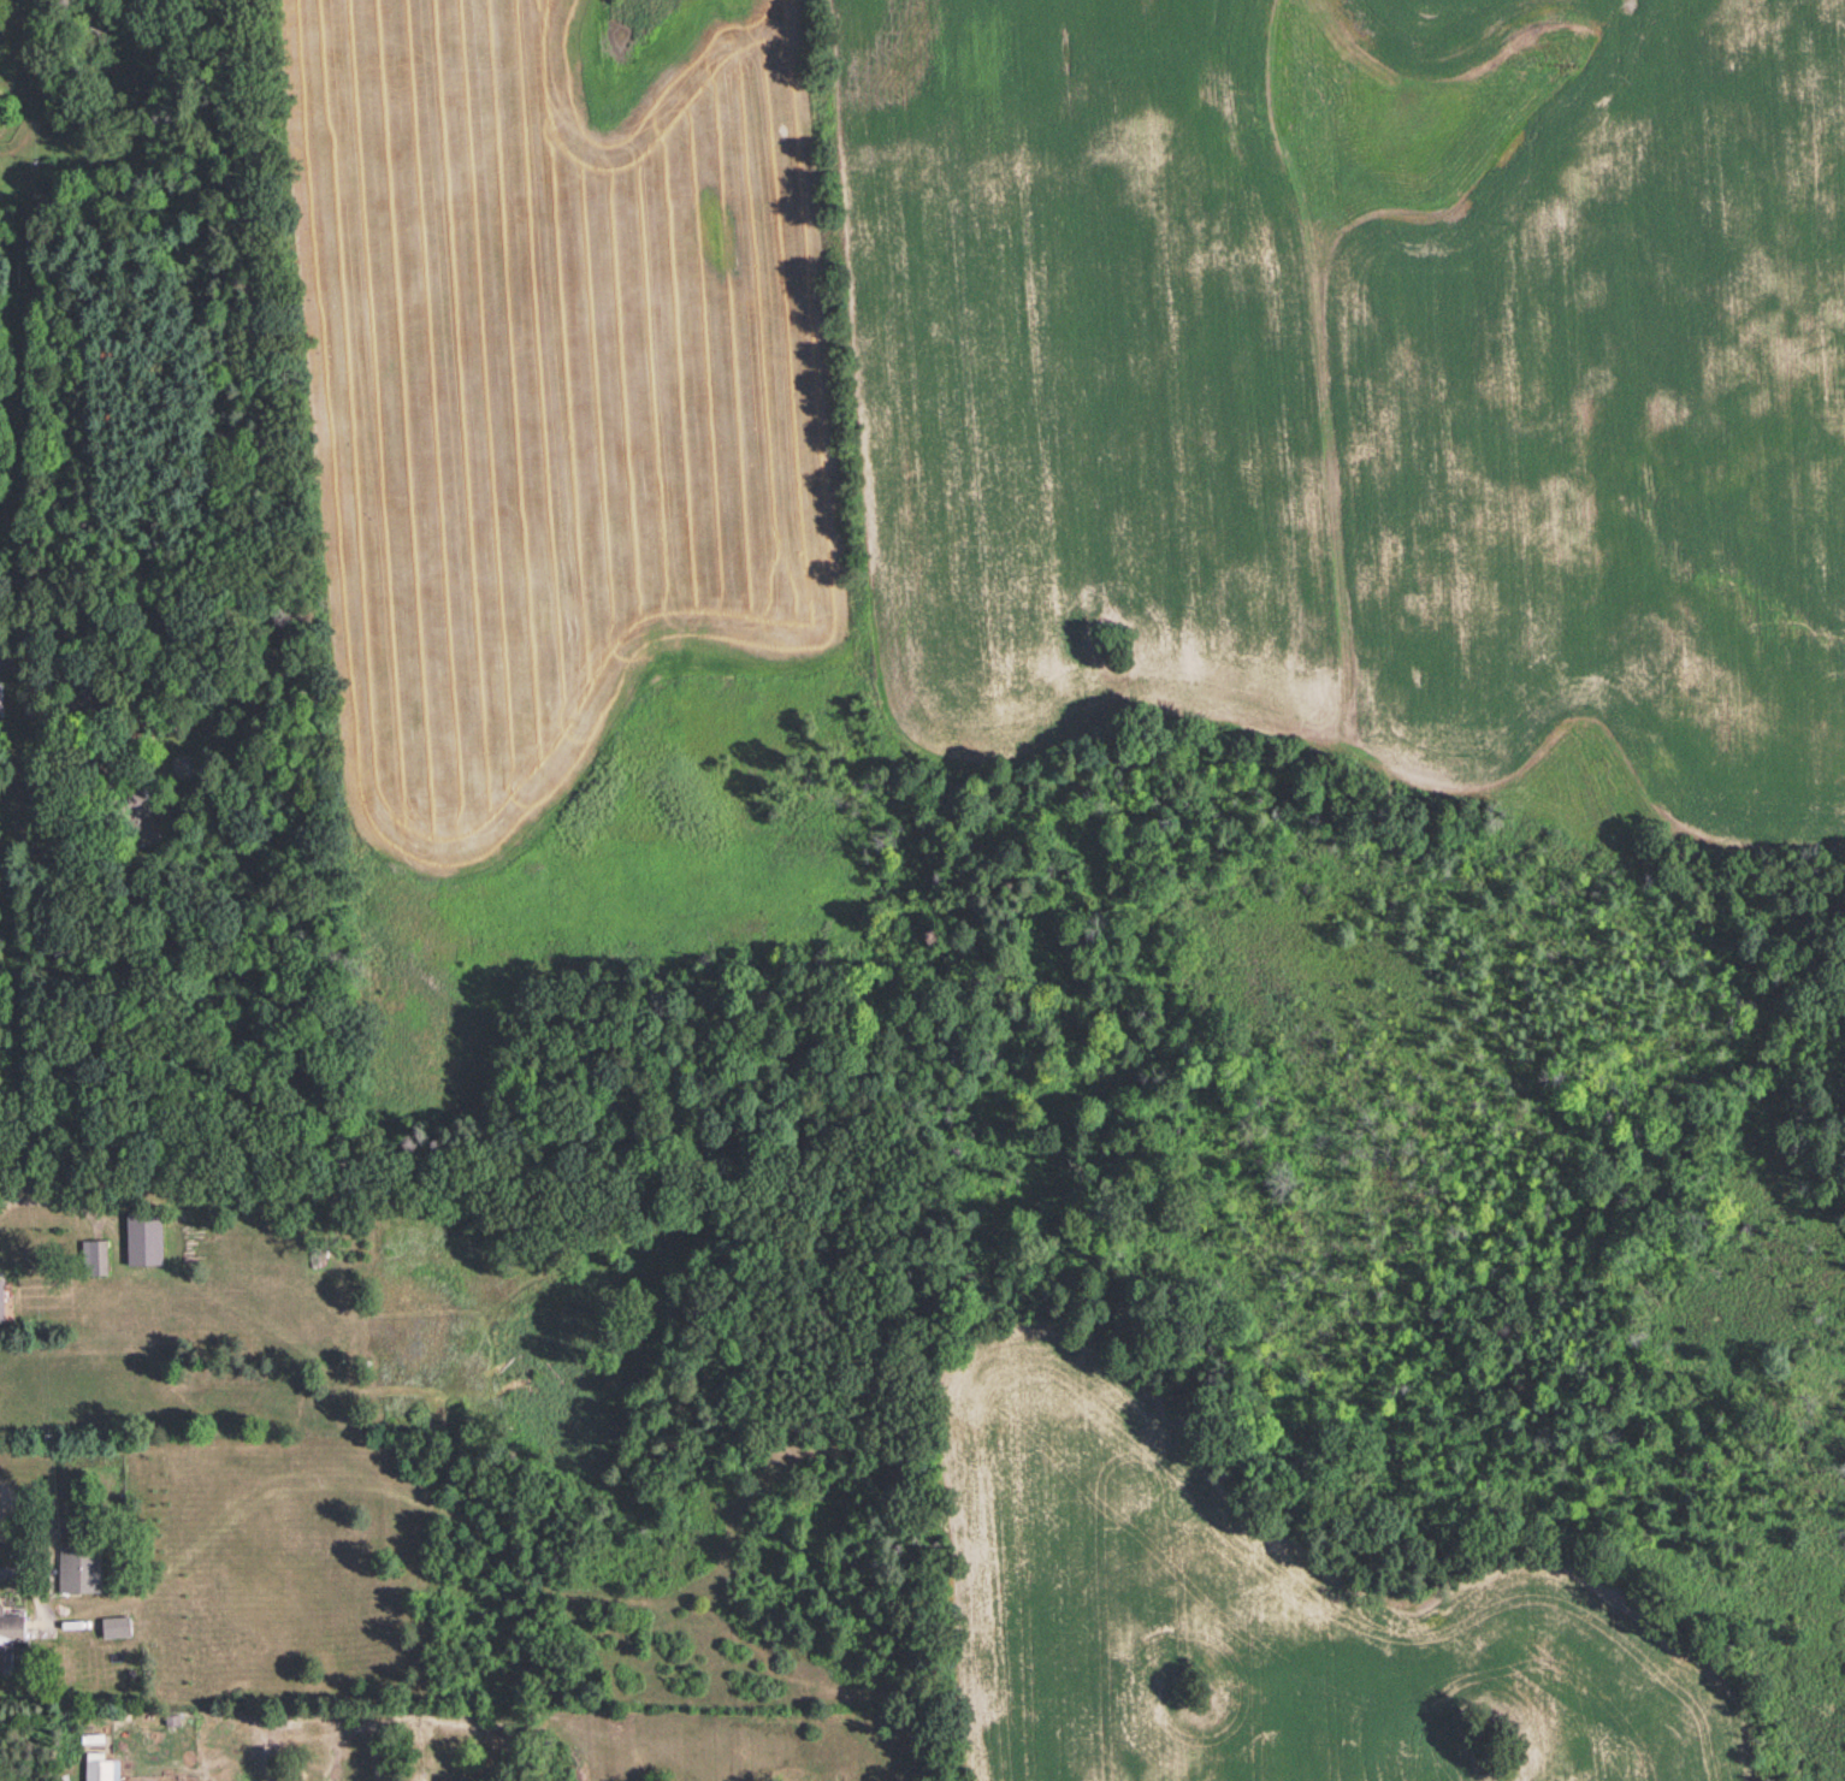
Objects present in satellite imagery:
crop: (1354, 378)
crop: (556, 385)
building: (0, 699)
road: (70, 703)
building: (140, 818)
road: (46, 1199)
building: (143, 1236)
building: (94, 1255)
building: (1, 1301)
building: (79, 1566)
crop: (1136, 1591)
building: (116, 1625)
building: (8, 1637)
crop: (1580, 1678)
building: (100, 1767)

